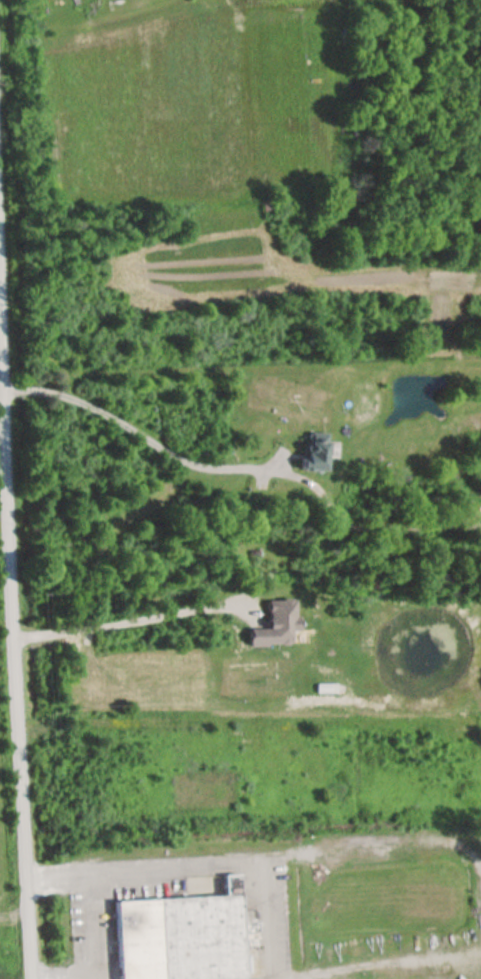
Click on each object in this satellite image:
building: (314, 453)
road: (215, 470)
building: (276, 625)
road: (127, 626)
road: (12, 661)
road: (193, 866)
building: (182, 936)
road: (89, 950)

